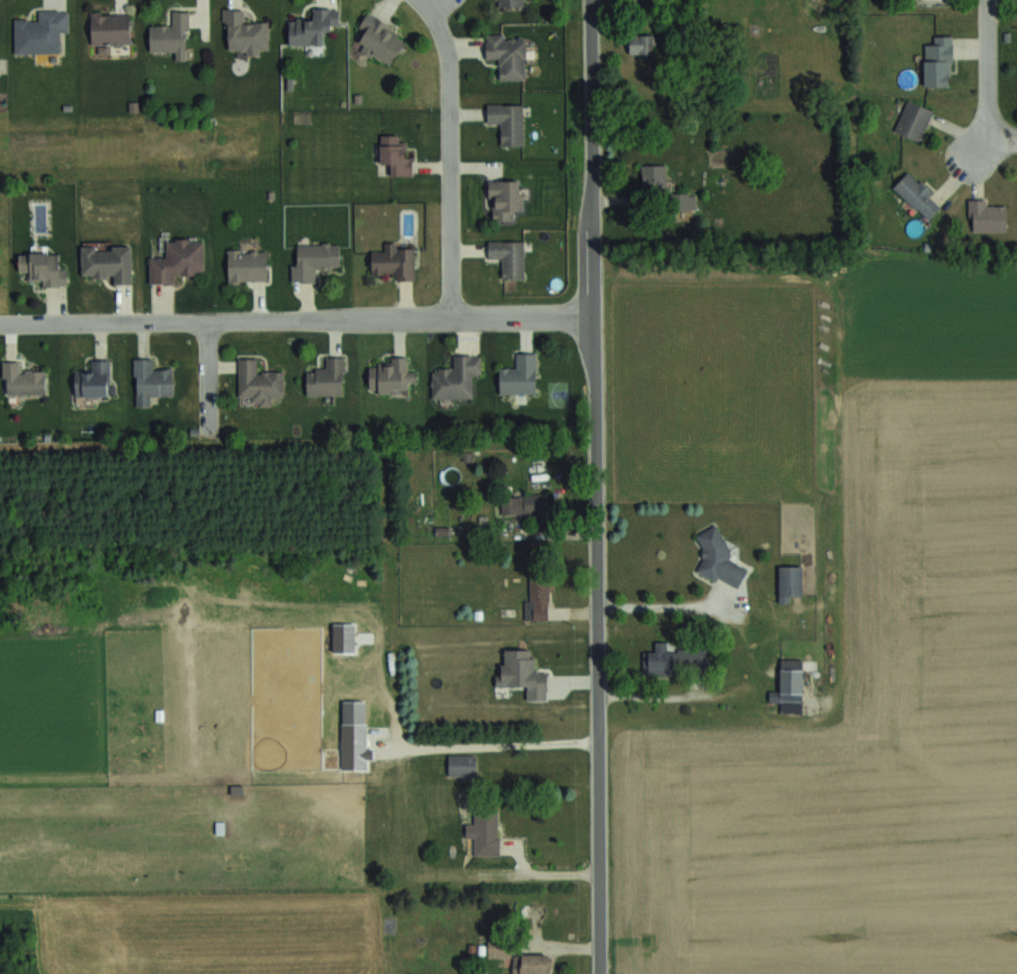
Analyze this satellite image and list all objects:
building: (510, 3)
building: (312, 26)
building: (110, 29)
building: (40, 32)
building: (245, 32)
building: (171, 36)
building: (380, 38)
building: (641, 43)
building: (507, 55)
building: (938, 61)
road: (992, 71)
building: (913, 120)
building: (507, 122)
road: (1004, 141)
building: (395, 155)
road: (449, 155)
building: (653, 176)
building: (918, 194)
building: (504, 199)
building: (682, 201)
building: (986, 216)
building: (509, 257)
building: (177, 260)
building: (314, 260)
building: (394, 261)
building: (107, 262)
building: (247, 266)
building: (42, 269)
road: (296, 318)
building: (519, 375)
road: (208, 376)
building: (390, 376)
building: (326, 378)
building: (456, 378)
building: (93, 379)
building: (22, 380)
building: (151, 381)
building: (258, 382)
road: (594, 487)
building: (522, 504)
building: (718, 559)
building: (789, 582)
building: (536, 599)
road: (657, 609)
building: (661, 661)
building: (522, 673)
building: (789, 687)
crop: (866, 702)
building: (377, 736)
road: (479, 743)
building: (461, 764)
building: (377, 765)
building: (484, 831)
building: (405, 841)
road: (556, 874)
building: (531, 964)

